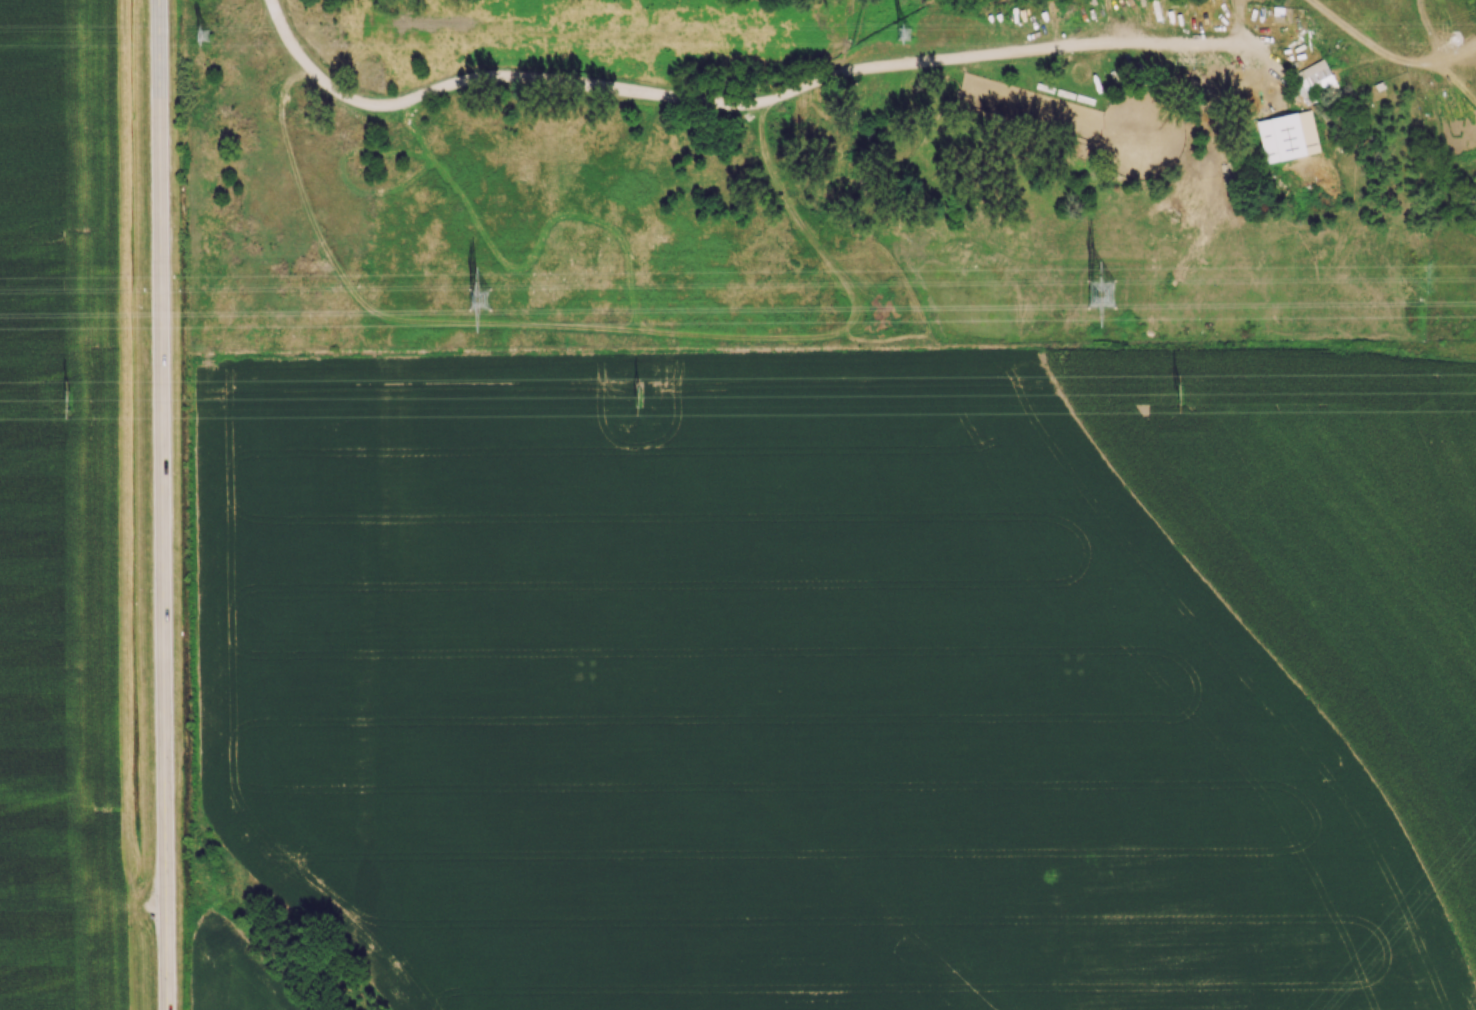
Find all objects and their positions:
power tower: (902, 31)
power tower: (202, 34)
building: (1316, 73)
road: (673, 104)
building: (1294, 134)
power tower: (1102, 299)
power tower: (477, 301)
power tower: (1182, 392)
power tower: (639, 398)
power tower: (69, 399)
road: (162, 505)
crop: (64, 511)

